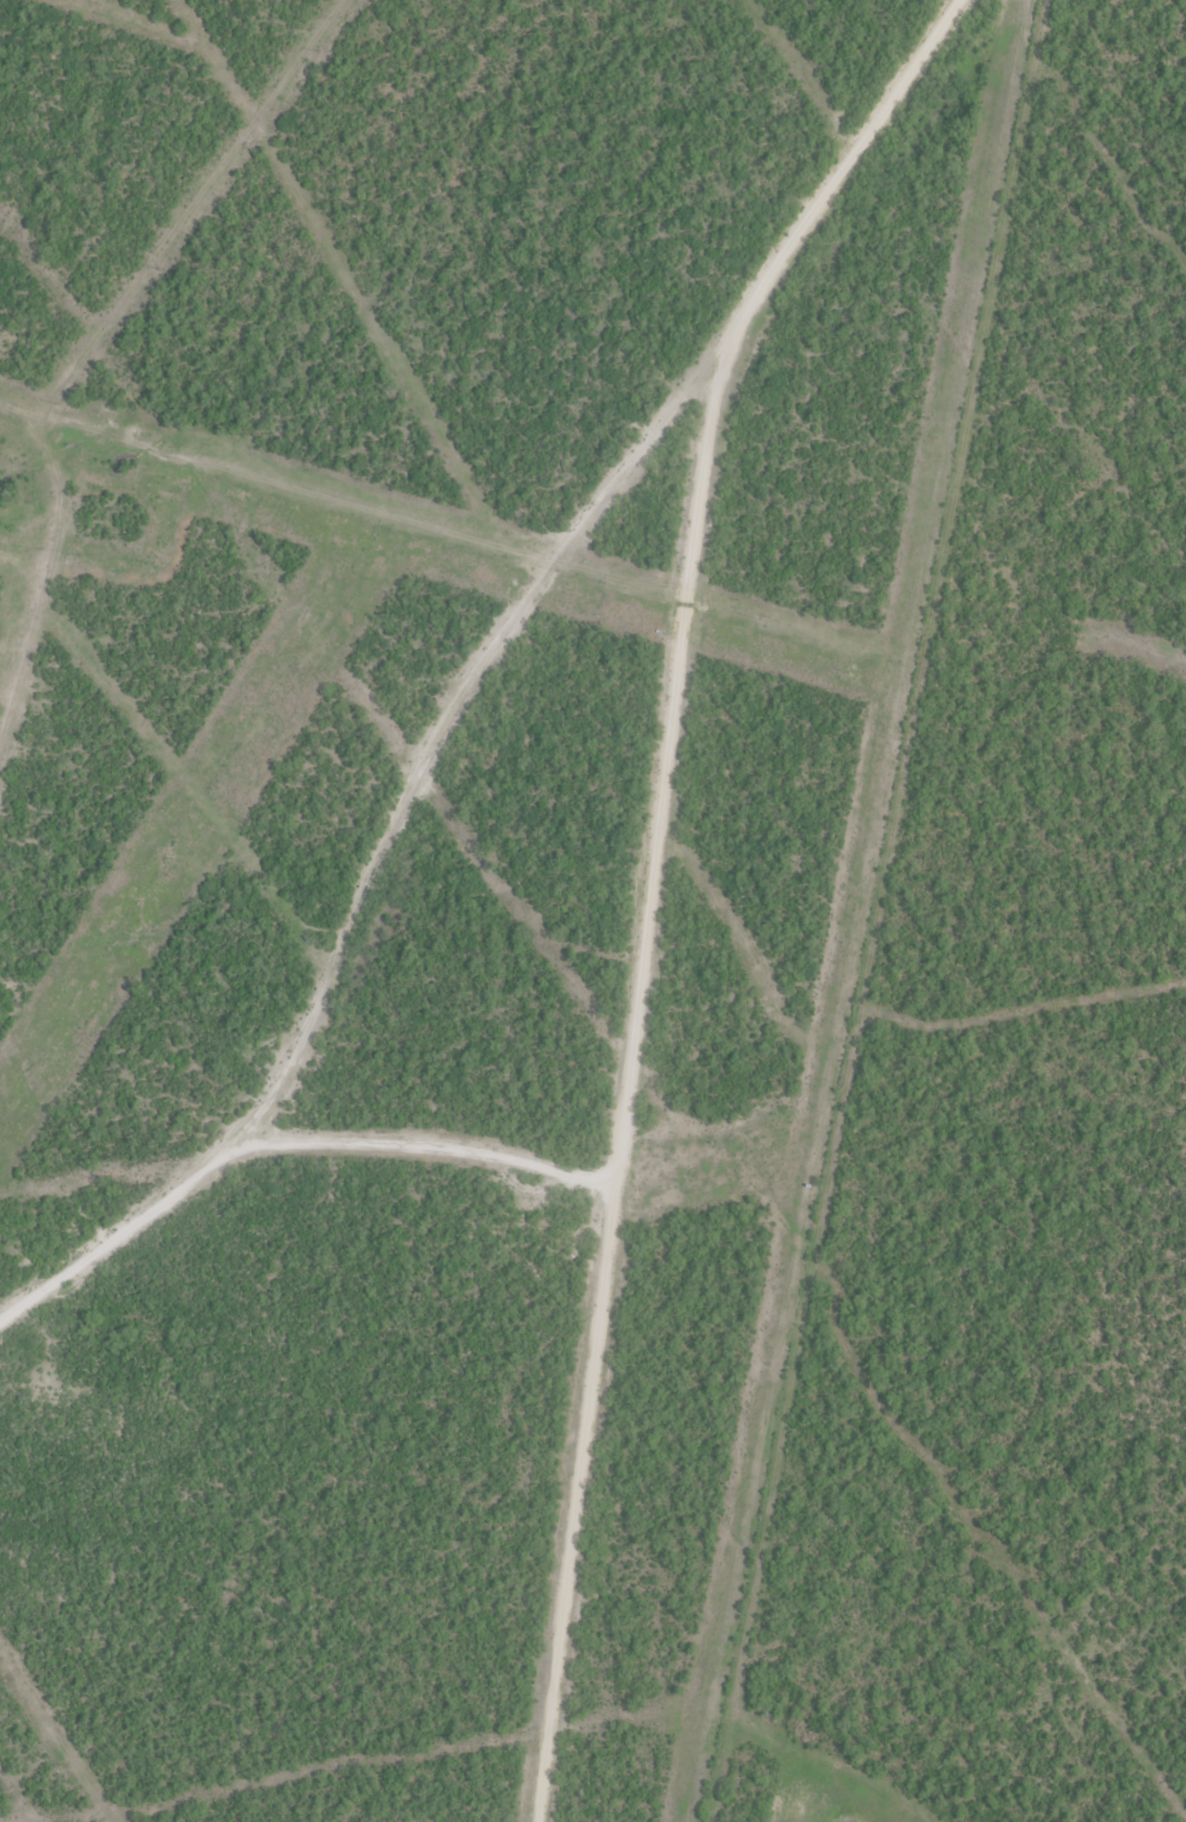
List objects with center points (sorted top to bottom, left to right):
road: (842, 207)
road: (403, 888)
road: (644, 1121)
road: (444, 1148)

